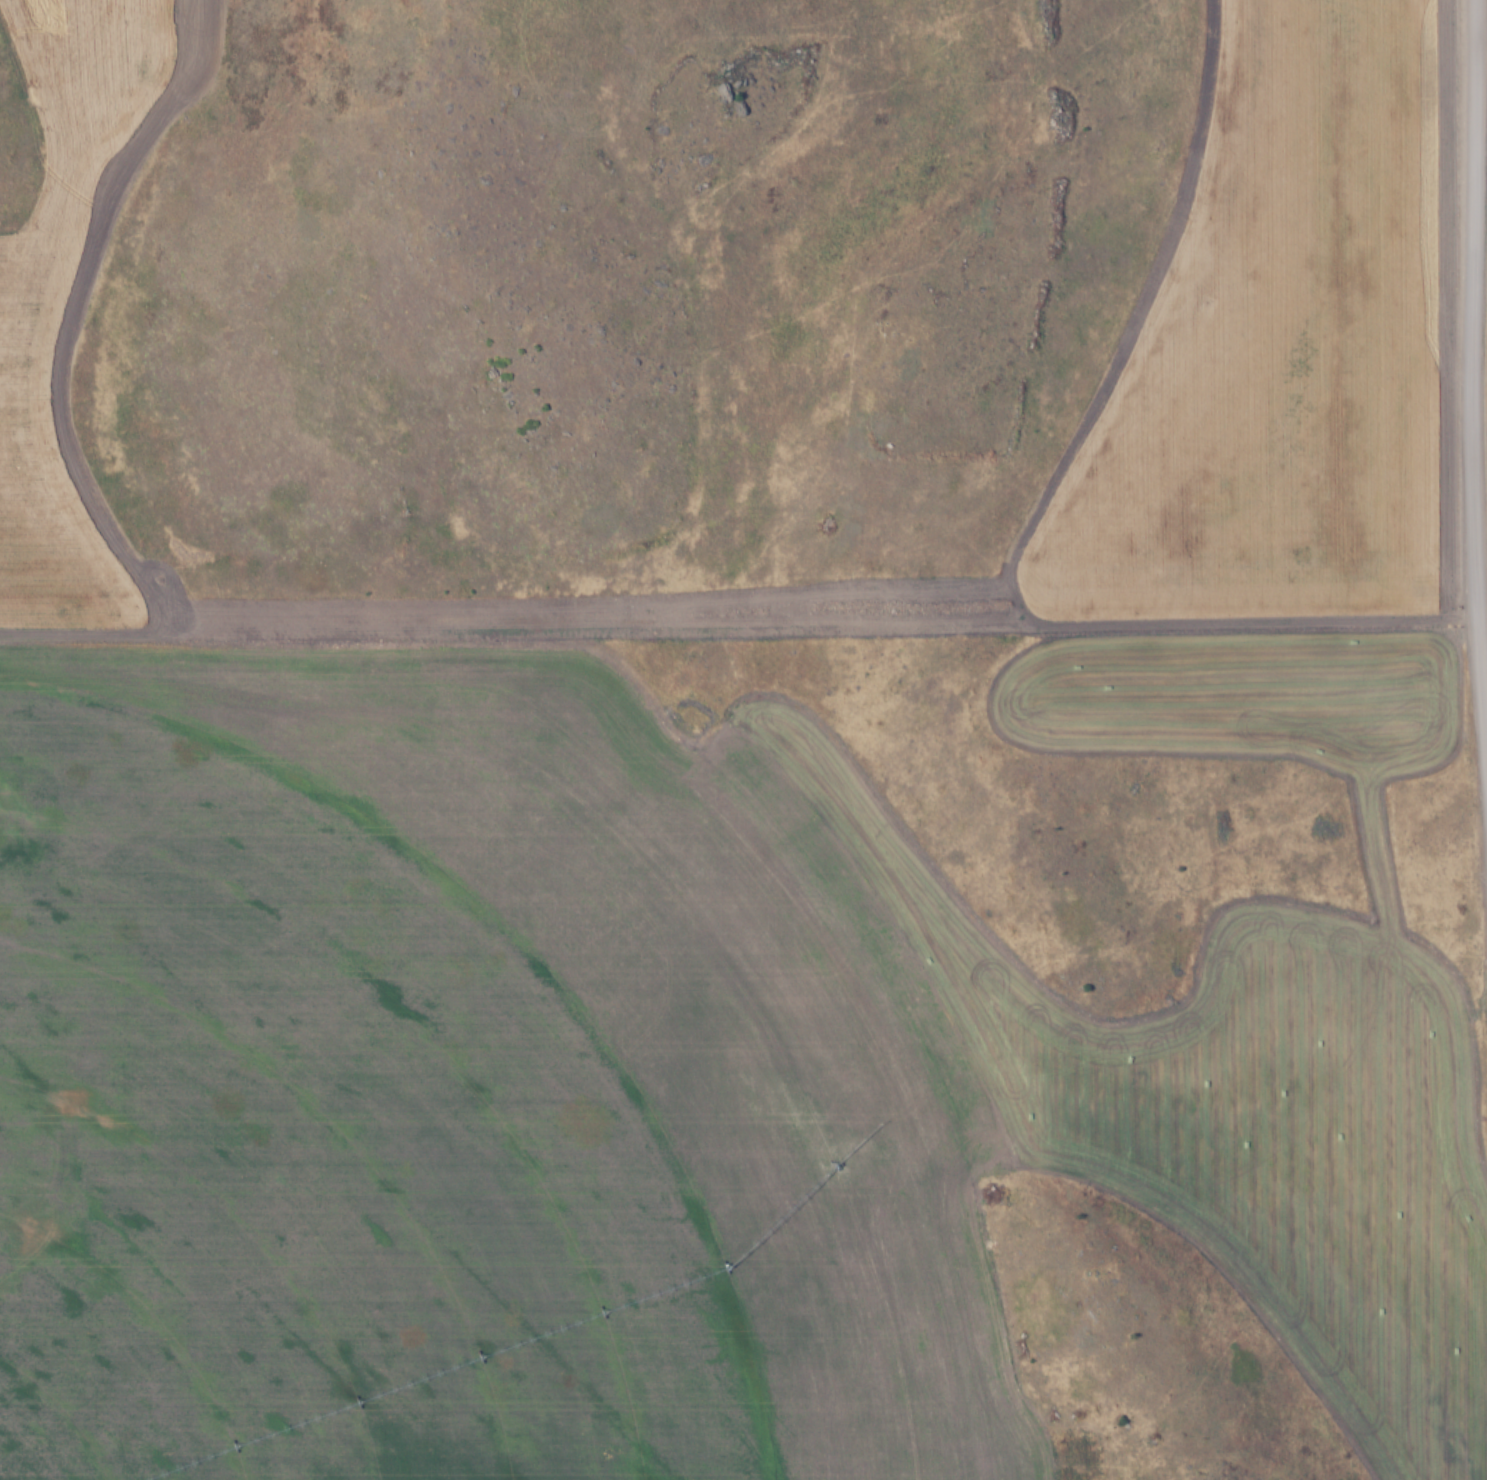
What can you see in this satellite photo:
road: (1482, 349)

